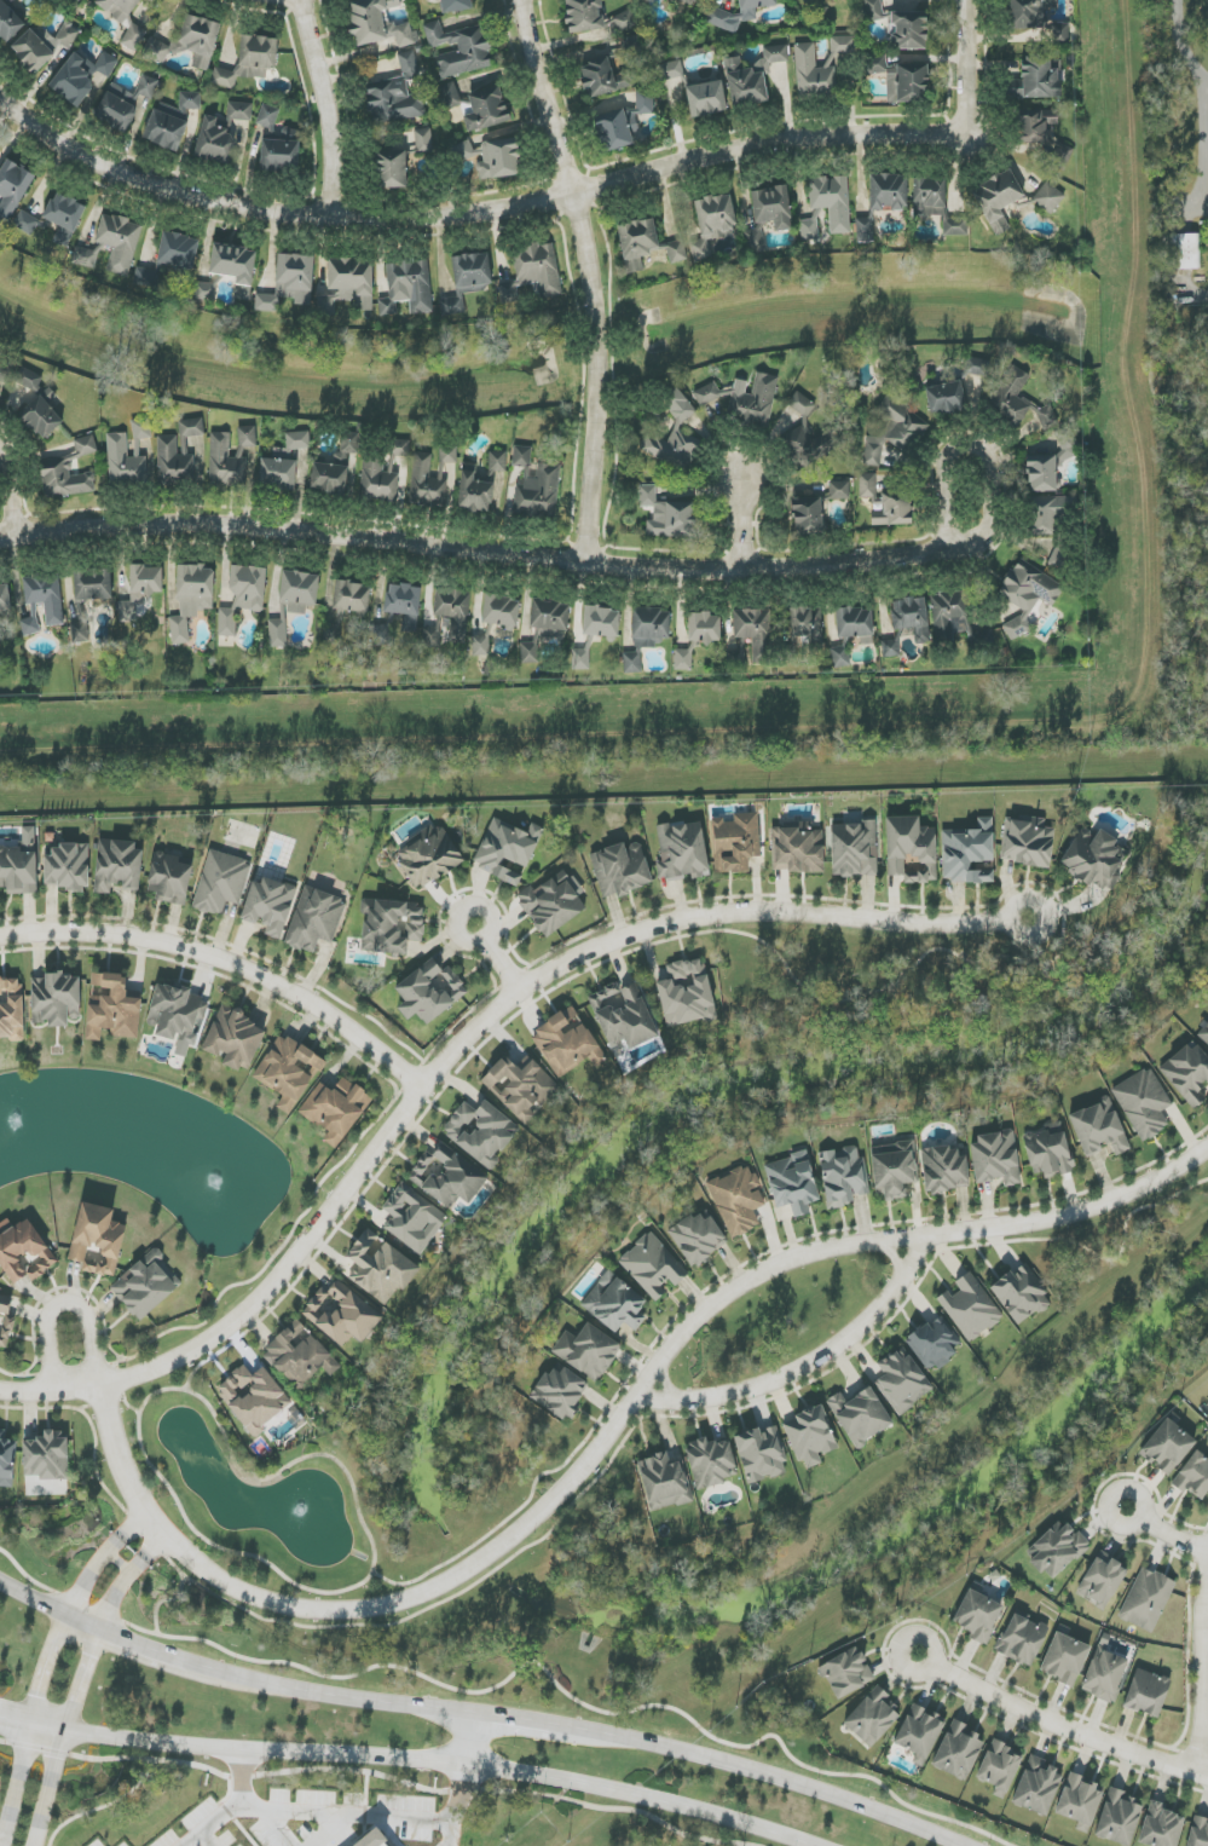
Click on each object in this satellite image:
building: (77, 0)
building: (687, 1)
road: (293, 4)
building: (456, 6)
building: (873, 10)
building: (718, 12)
building: (584, 15)
building: (1035, 18)
building: (125, 19)
building: (8, 23)
building: (378, 23)
building: (908, 30)
building: (189, 42)
road: (1183, 42)
building: (42, 45)
building: (459, 48)
building: (249, 60)
building: (820, 68)
road: (966, 68)
building: (671, 70)
building: (81, 75)
building: (603, 77)
building: (752, 77)
building: (1036, 79)
building: (901, 80)
building: (394, 94)
building: (450, 96)
building: (706, 99)
building: (643, 102)
building: (123, 103)
road: (329, 109)
building: (486, 109)
building: (267, 116)
building: (172, 121)
building: (617, 131)
building: (221, 133)
building: (1042, 137)
building: (423, 140)
road: (1203, 146)
building: (492, 157)
building: (391, 168)
building: (13, 188)
building: (889, 191)
building: (1048, 197)
building: (998, 200)
building: (832, 201)
building: (936, 204)
building: (771, 207)
building: (64, 217)
building: (25, 223)
road: (474, 223)
building: (713, 223)
building: (809, 230)
building: (865, 230)
building: (755, 238)
building: (119, 242)
building: (637, 242)
building: (178, 250)
building: (677, 252)
building: (1180, 252)
building: (85, 258)
building: (235, 266)
building: (533, 272)
road: (591, 277)
building: (289, 283)
building: (347, 285)
building: (408, 288)
building: (4, 376)
building: (545, 377)
building: (946, 398)
building: (745, 399)
building: (1017, 400)
building: (39, 405)
building: (191, 427)
building: (141, 428)
building: (810, 429)
building: (892, 429)
building: (674, 437)
road: (978, 444)
building: (86, 446)
building: (346, 451)
building: (497, 461)
building: (174, 462)
building: (283, 462)
building: (125, 463)
building: (421, 471)
building: (383, 473)
building: (64, 479)
building: (329, 479)
building: (534, 484)
road: (10, 490)
building: (839, 490)
building: (474, 491)
building: (885, 502)
building: (667, 515)
building: (808, 515)
building: (1042, 517)
road: (746, 524)
road: (476, 550)
building: (93, 584)
building: (140, 589)
building: (299, 590)
building: (1027, 595)
building: (243, 596)
building: (352, 596)
building: (5, 598)
building: (46, 598)
building: (191, 599)
building: (404, 604)
building: (453, 611)
building: (501, 611)
building: (549, 615)
building: (948, 616)
building: (912, 618)
building: (601, 622)
building: (807, 623)
building: (855, 624)
building: (30, 627)
building: (648, 627)
building: (704, 628)
building: (80, 631)
building: (278, 633)
building: (757, 633)
building: (430, 636)
building: (480, 646)
building: (890, 648)
building: (530, 653)
building: (840, 657)
building: (580, 659)
building: (683, 659)
building: (632, 663)
building: (735, 842)
building: (1028, 843)
building: (797, 848)
building: (507, 849)
building: (854, 849)
building: (911, 849)
building: (682, 852)
building: (967, 853)
building: (428, 858)
building: (1092, 858)
building: (117, 865)
building: (19, 867)
building: (68, 867)
building: (620, 870)
building: (169, 878)
building: (220, 882)
building: (551, 904)
building: (268, 906)
building: (314, 919)
building: (393, 927)
road: (492, 958)
road: (227, 964)
building: (430, 993)
building: (686, 993)
building: (56, 999)
building: (112, 1006)
building: (11, 1008)
building: (623, 1015)
building: (177, 1016)
building: (1203, 1034)
building: (235, 1038)
building: (566, 1044)
road: (461, 1046)
building: (288, 1072)
building: (1189, 1073)
building: (520, 1088)
building: (1143, 1103)
building: (336, 1109)
fountain: (16, 1127)
building: (1099, 1129)
building: (480, 1132)
building: (995, 1159)
building: (894, 1169)
building: (944, 1170)
building: (843, 1176)
building: (447, 1177)
fountain: (213, 1182)
building: (792, 1183)
building: (738, 1200)
road: (1074, 1212)
building: (412, 1218)
building: (698, 1239)
building: (98, 1240)
building: (24, 1253)
road: (891, 1254)
building: (653, 1265)
building: (380, 1268)
road: (756, 1275)
building: (144, 1286)
building: (1021, 1294)
road: (65, 1304)
building: (614, 1304)
building: (970, 1308)
building: (341, 1314)
building: (5, 1320)
building: (934, 1343)
building: (588, 1351)
building: (300, 1355)
road: (807, 1363)
building: (902, 1381)
road: (665, 1385)
building: (560, 1392)
building: (254, 1398)
building: (1207, 1408)
building: (860, 1415)
building: (810, 1436)
building: (1168, 1446)
building: (762, 1454)
building: (46, 1455)
building: (6, 1461)
building: (711, 1461)
building: (1195, 1476)
building: (664, 1482)
fountain: (297, 1511)
road: (1160, 1530)
building: (1057, 1550)
road: (103, 1561)
road: (128, 1580)
building: (1102, 1580)
road: (33, 1599)
building: (1146, 1599)
road: (346, 1610)
building: (978, 1614)
building: (1022, 1640)
road: (129, 1643)
building: (1065, 1658)
road: (1197, 1660)
building: (846, 1673)
building: (1104, 1675)
building: (1146, 1692)
road: (334, 1696)
building: (872, 1717)
road: (16, 1720)
road: (527, 1720)
road: (1054, 1725)
road: (48, 1727)
road: (30, 1729)
building: (919, 1733)
road: (64, 1737)
road: (470, 1741)
building: (958, 1752)
road: (443, 1763)
building: (1000, 1767)
road: (383, 1776)
road: (775, 1777)
road: (243, 1778)
building: (1038, 1787)
building: (1080, 1801)
road: (458, 1806)
road: (313, 1811)
building: (1119, 1818)
building: (1161, 1827)
building: (1198, 1831)
building: (377, 1841)

